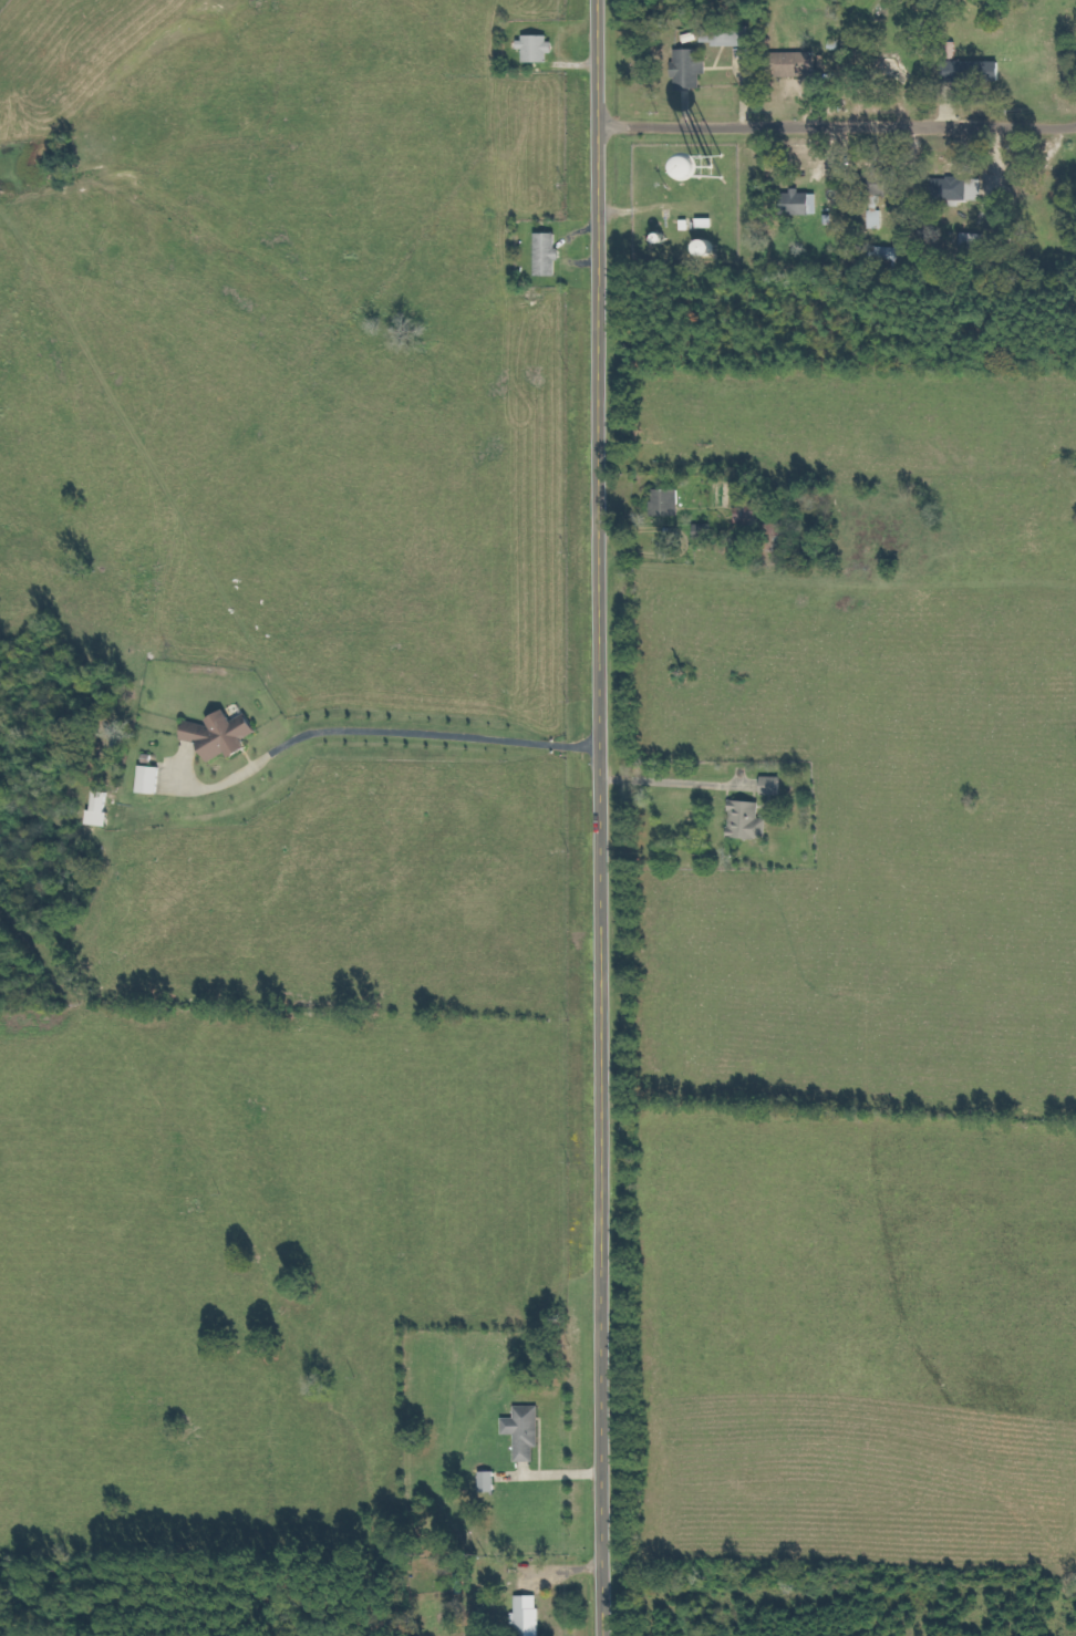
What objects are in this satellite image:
building: (732, 38)
building: (540, 49)
building: (804, 64)
building: (692, 71)
building: (972, 72)
road: (837, 127)
building: (757, 178)
building: (959, 189)
building: (798, 204)
building: (877, 217)
building: (552, 256)
building: (664, 503)
building: (227, 734)
building: (154, 779)
building: (775, 786)
building: (104, 809)
road: (598, 817)
building: (751, 820)
building: (528, 1431)
building: (531, 1615)

